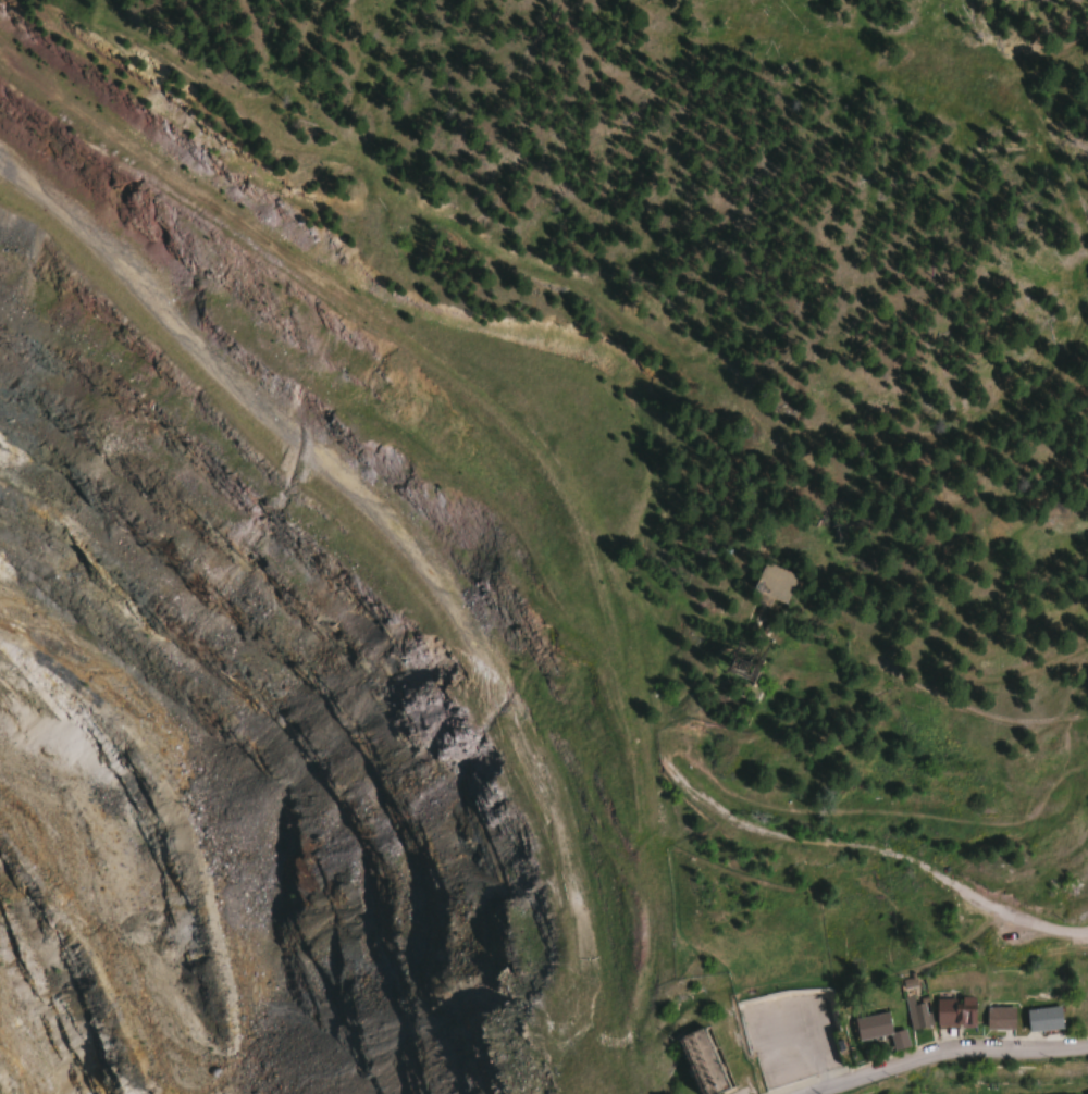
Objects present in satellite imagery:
building: (771, 582)
quarry: (257, 698)
road: (793, 836)
road: (1017, 918)
building: (953, 1012)
building: (1077, 1012)
building: (916, 1015)
building: (998, 1018)
building: (1040, 1019)
building: (877, 1029)
building: (788, 1051)
road: (944, 1053)
building: (697, 1062)

